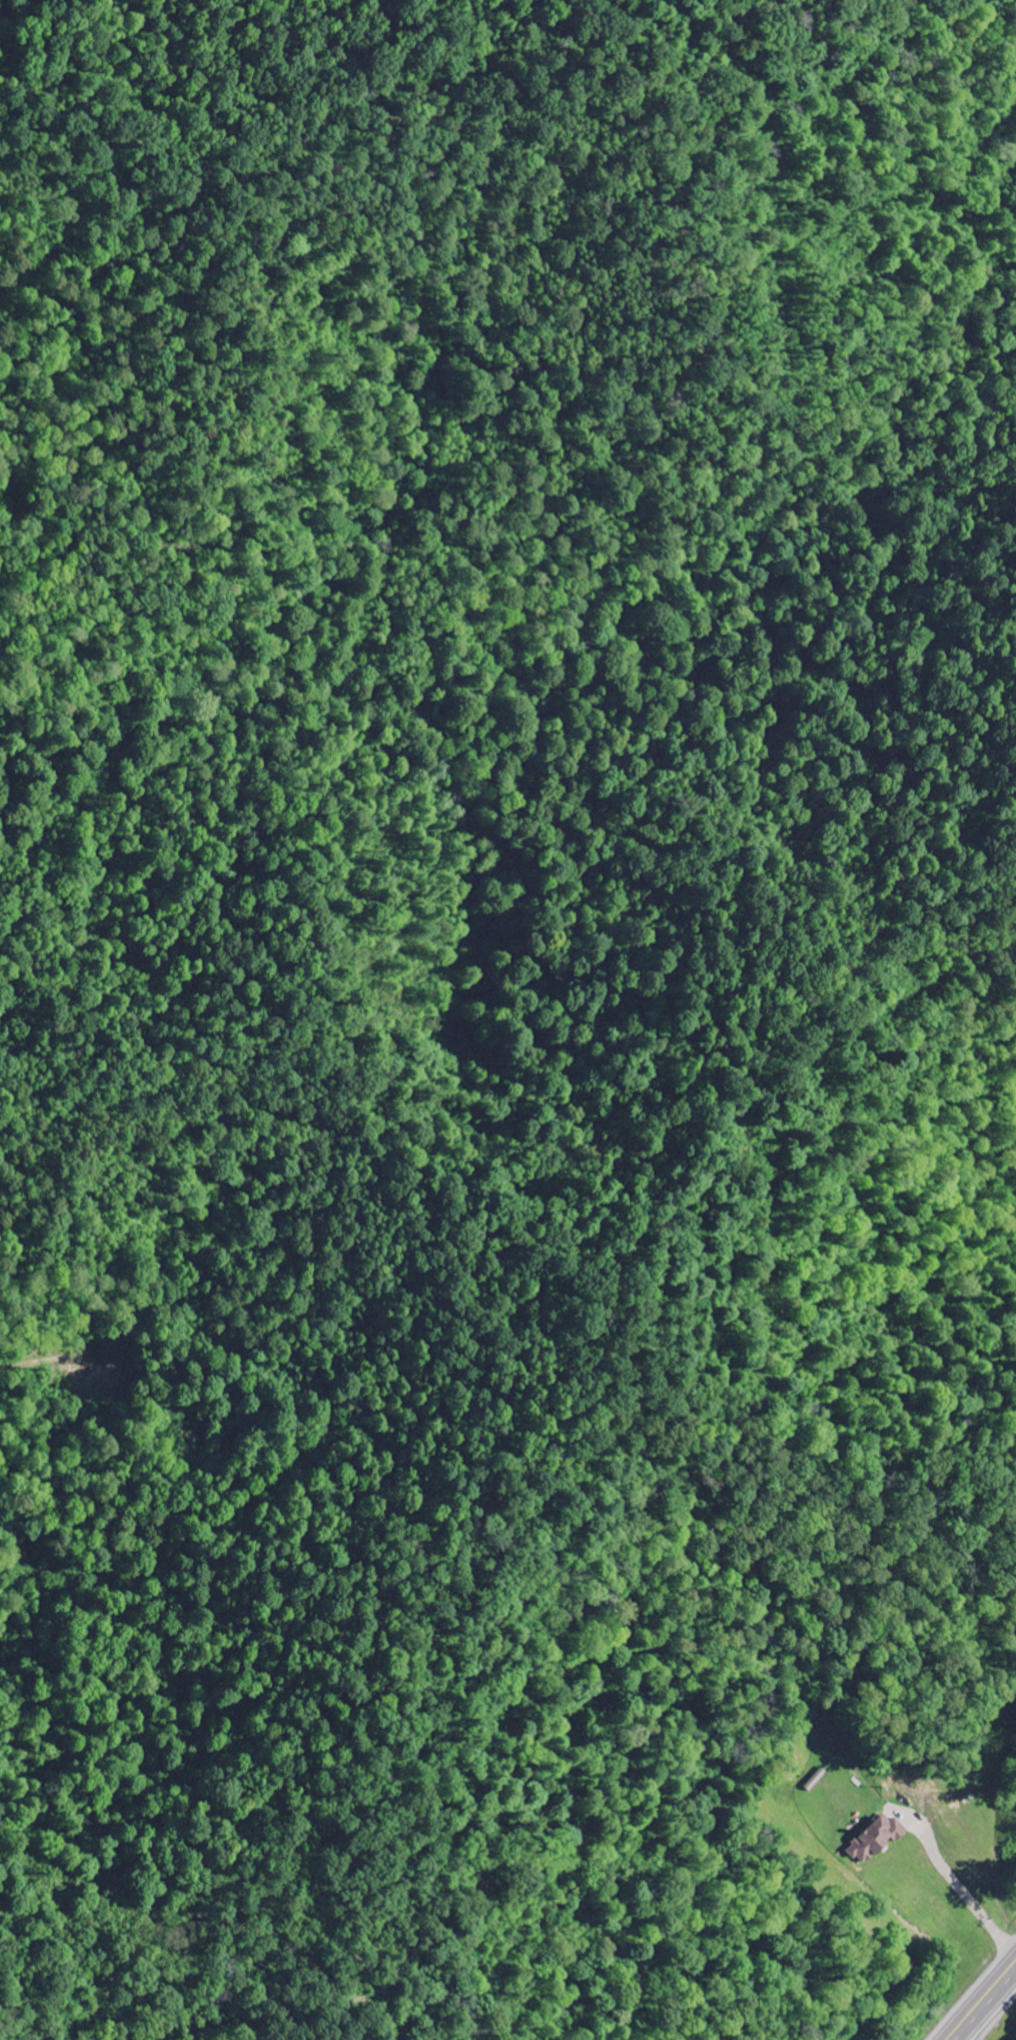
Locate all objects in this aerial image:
road: (684, 1037)
building: (878, 1840)
road: (988, 2005)

